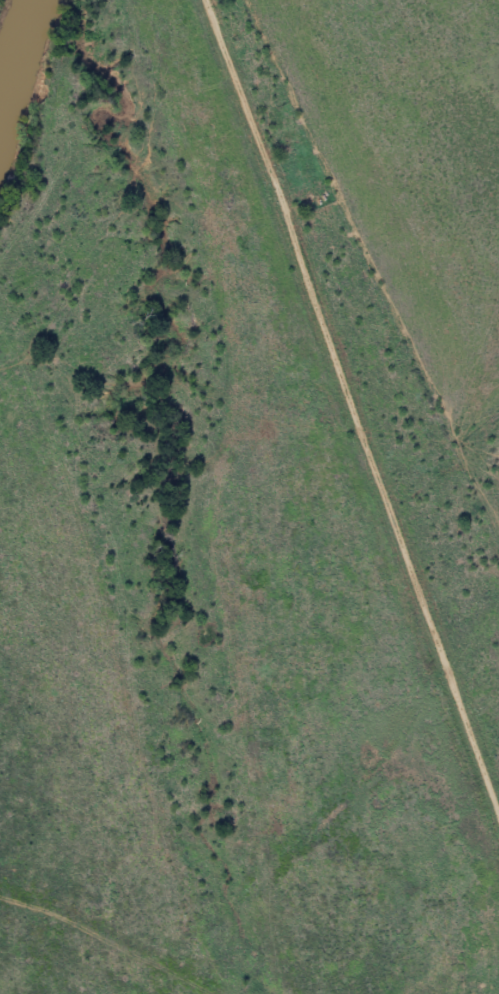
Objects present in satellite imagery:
river: (15, 64)
road: (355, 381)
road: (61, 945)

